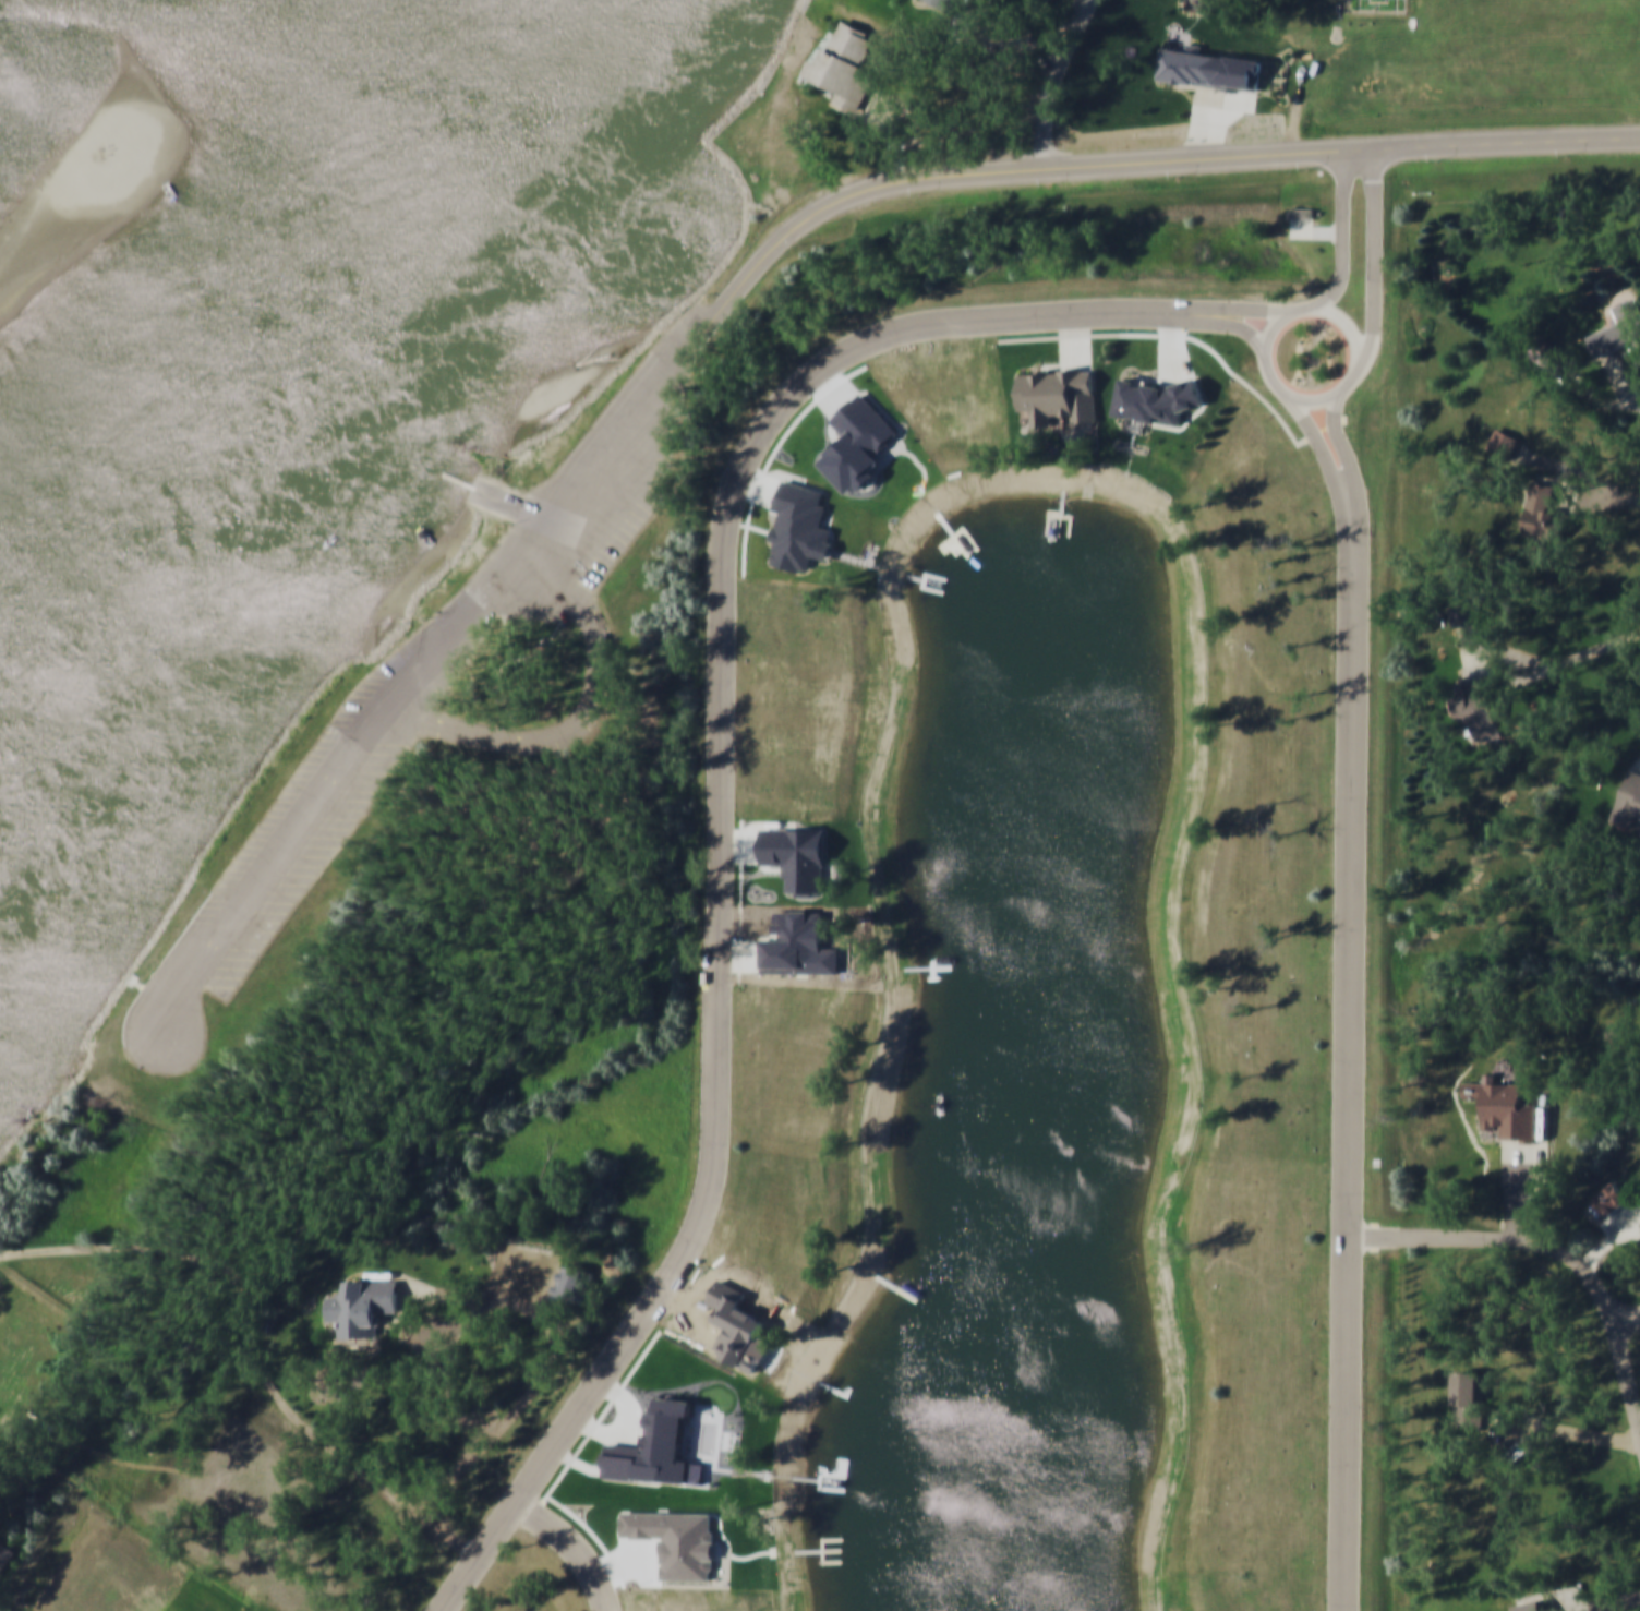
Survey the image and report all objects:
building: (946, 5)
building: (842, 67)
building: (1217, 67)
road: (1056, 80)
road: (1209, 121)
road: (892, 131)
building: (1304, 213)
road: (1317, 230)
road: (1344, 231)
road: (1375, 261)
road: (739, 287)
road: (1247, 310)
road: (1239, 324)
building: (1618, 332)
road: (1059, 337)
road: (1077, 341)
building: (1547, 353)
road: (1271, 369)
road: (1619, 380)
road: (1591, 392)
building: (1056, 393)
road: (1639, 397)
road: (1287, 426)
building: (1503, 442)
river: (313, 444)
road: (1351, 458)
road: (1331, 459)
road: (1579, 468)
parking lot: (619, 488)
road: (501, 496)
road: (1588, 502)
building: (1540, 514)
building: (1461, 615)
building: (545, 650)
road: (523, 658)
road: (1475, 661)
road: (1546, 662)
building: (508, 668)
building: (502, 676)
road: (1516, 678)
building: (1478, 708)
road: (587, 716)
parking lot: (327, 801)
building: (1629, 802)
road: (721, 818)
road: (1355, 1068)
building: (1506, 1109)
road: (1516, 1189)
building: (1608, 1200)
road: (1626, 1215)
road: (1638, 1223)
road: (1608, 1241)
road: (1552, 1250)
road: (529, 1274)
building: (572, 1288)
road: (435, 1299)
building: (363, 1308)
road: (548, 1319)
road: (1629, 1319)
road: (251, 1354)
building: (1469, 1400)
road: (1560, 1432)
road: (576, 1547)
building: (4, 1558)
road: (1597, 1602)
building: (1534, 1608)

